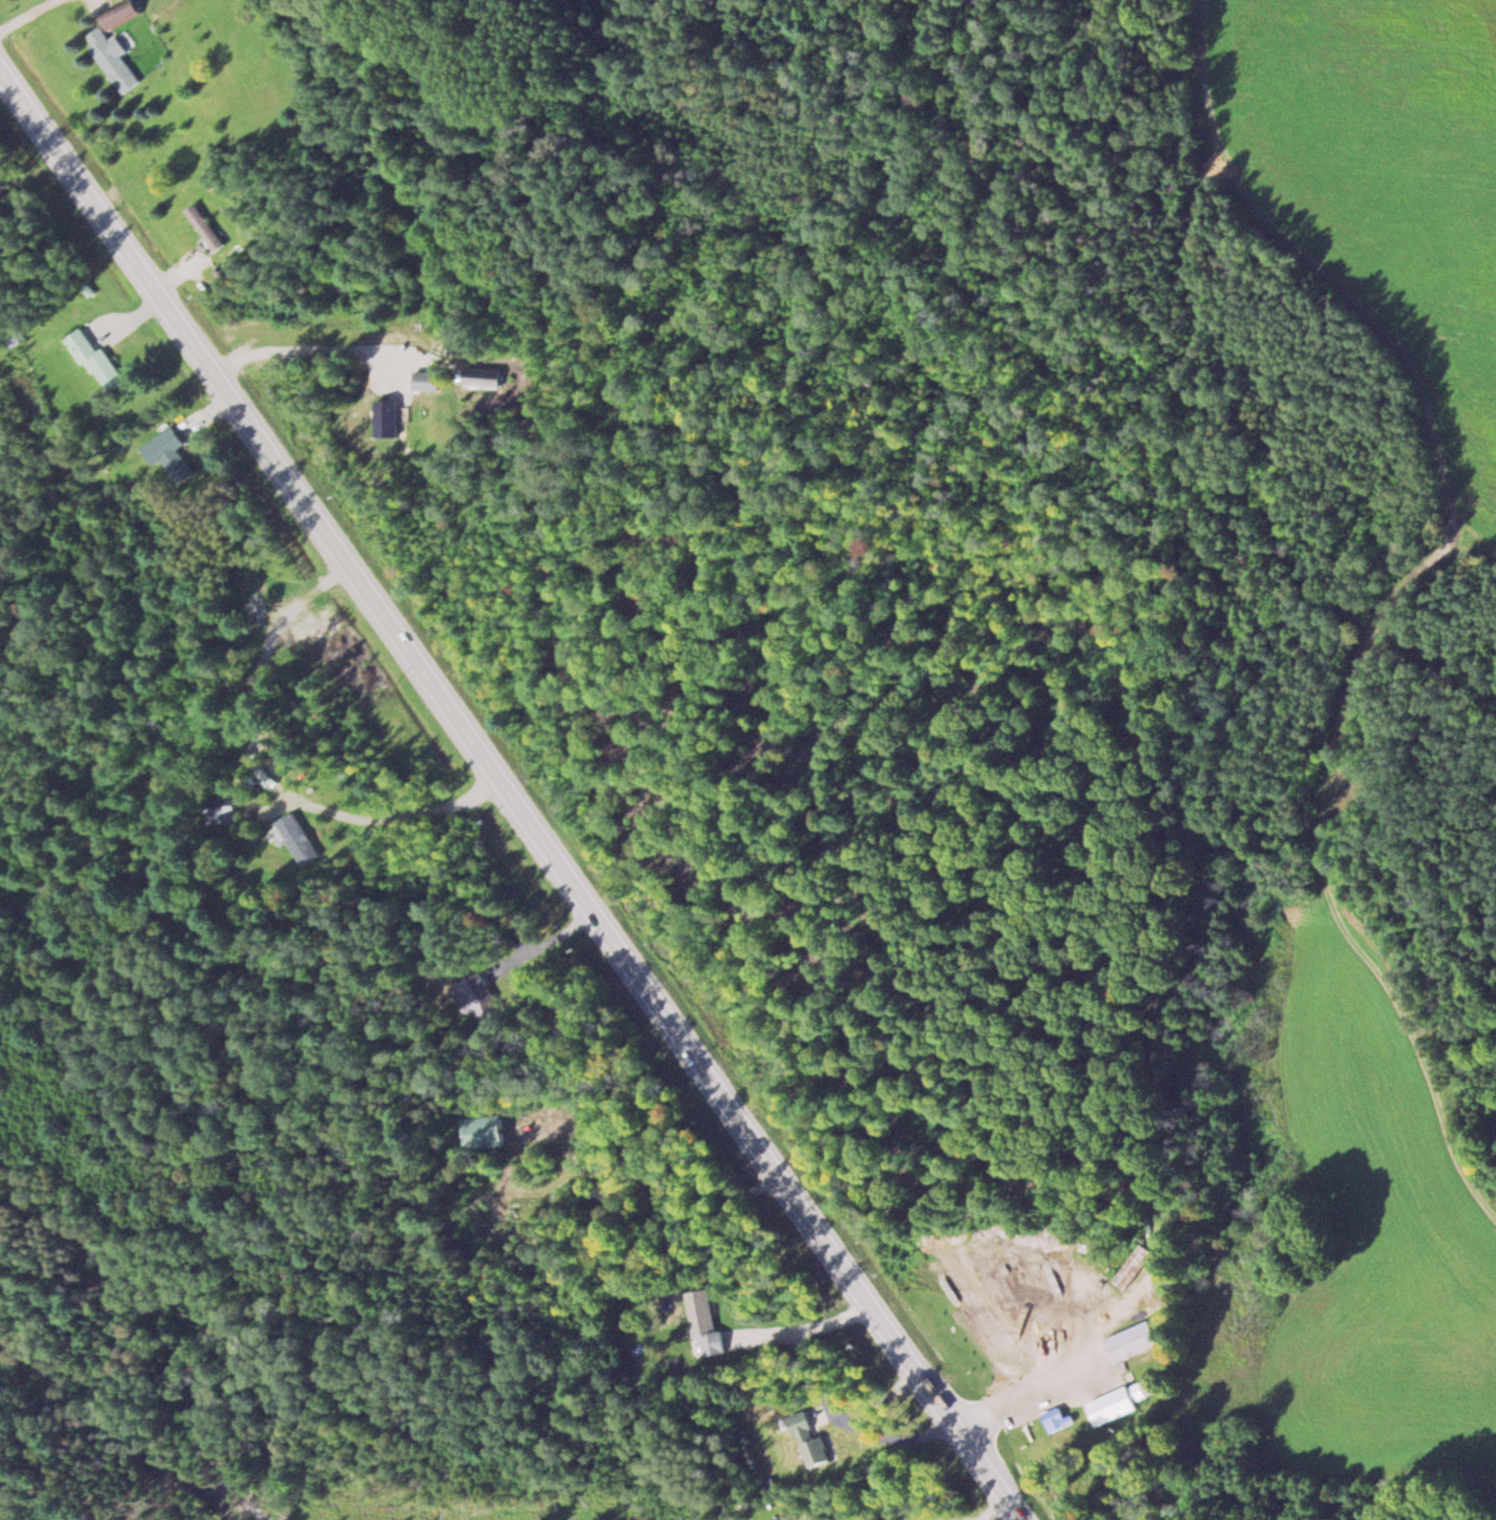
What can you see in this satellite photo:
building: (121, 14)
building: (112, 59)
building: (203, 227)
building: (94, 359)
building: (482, 375)
building: (424, 380)
building: (386, 417)
building: (170, 453)
road: (587, 573)
road: (510, 794)
building: (222, 807)
building: (298, 838)
building: (484, 997)
building: (489, 1132)
building: (704, 1324)
building: (1133, 1340)
building: (1120, 1400)
building: (1056, 1418)
building: (807, 1438)

